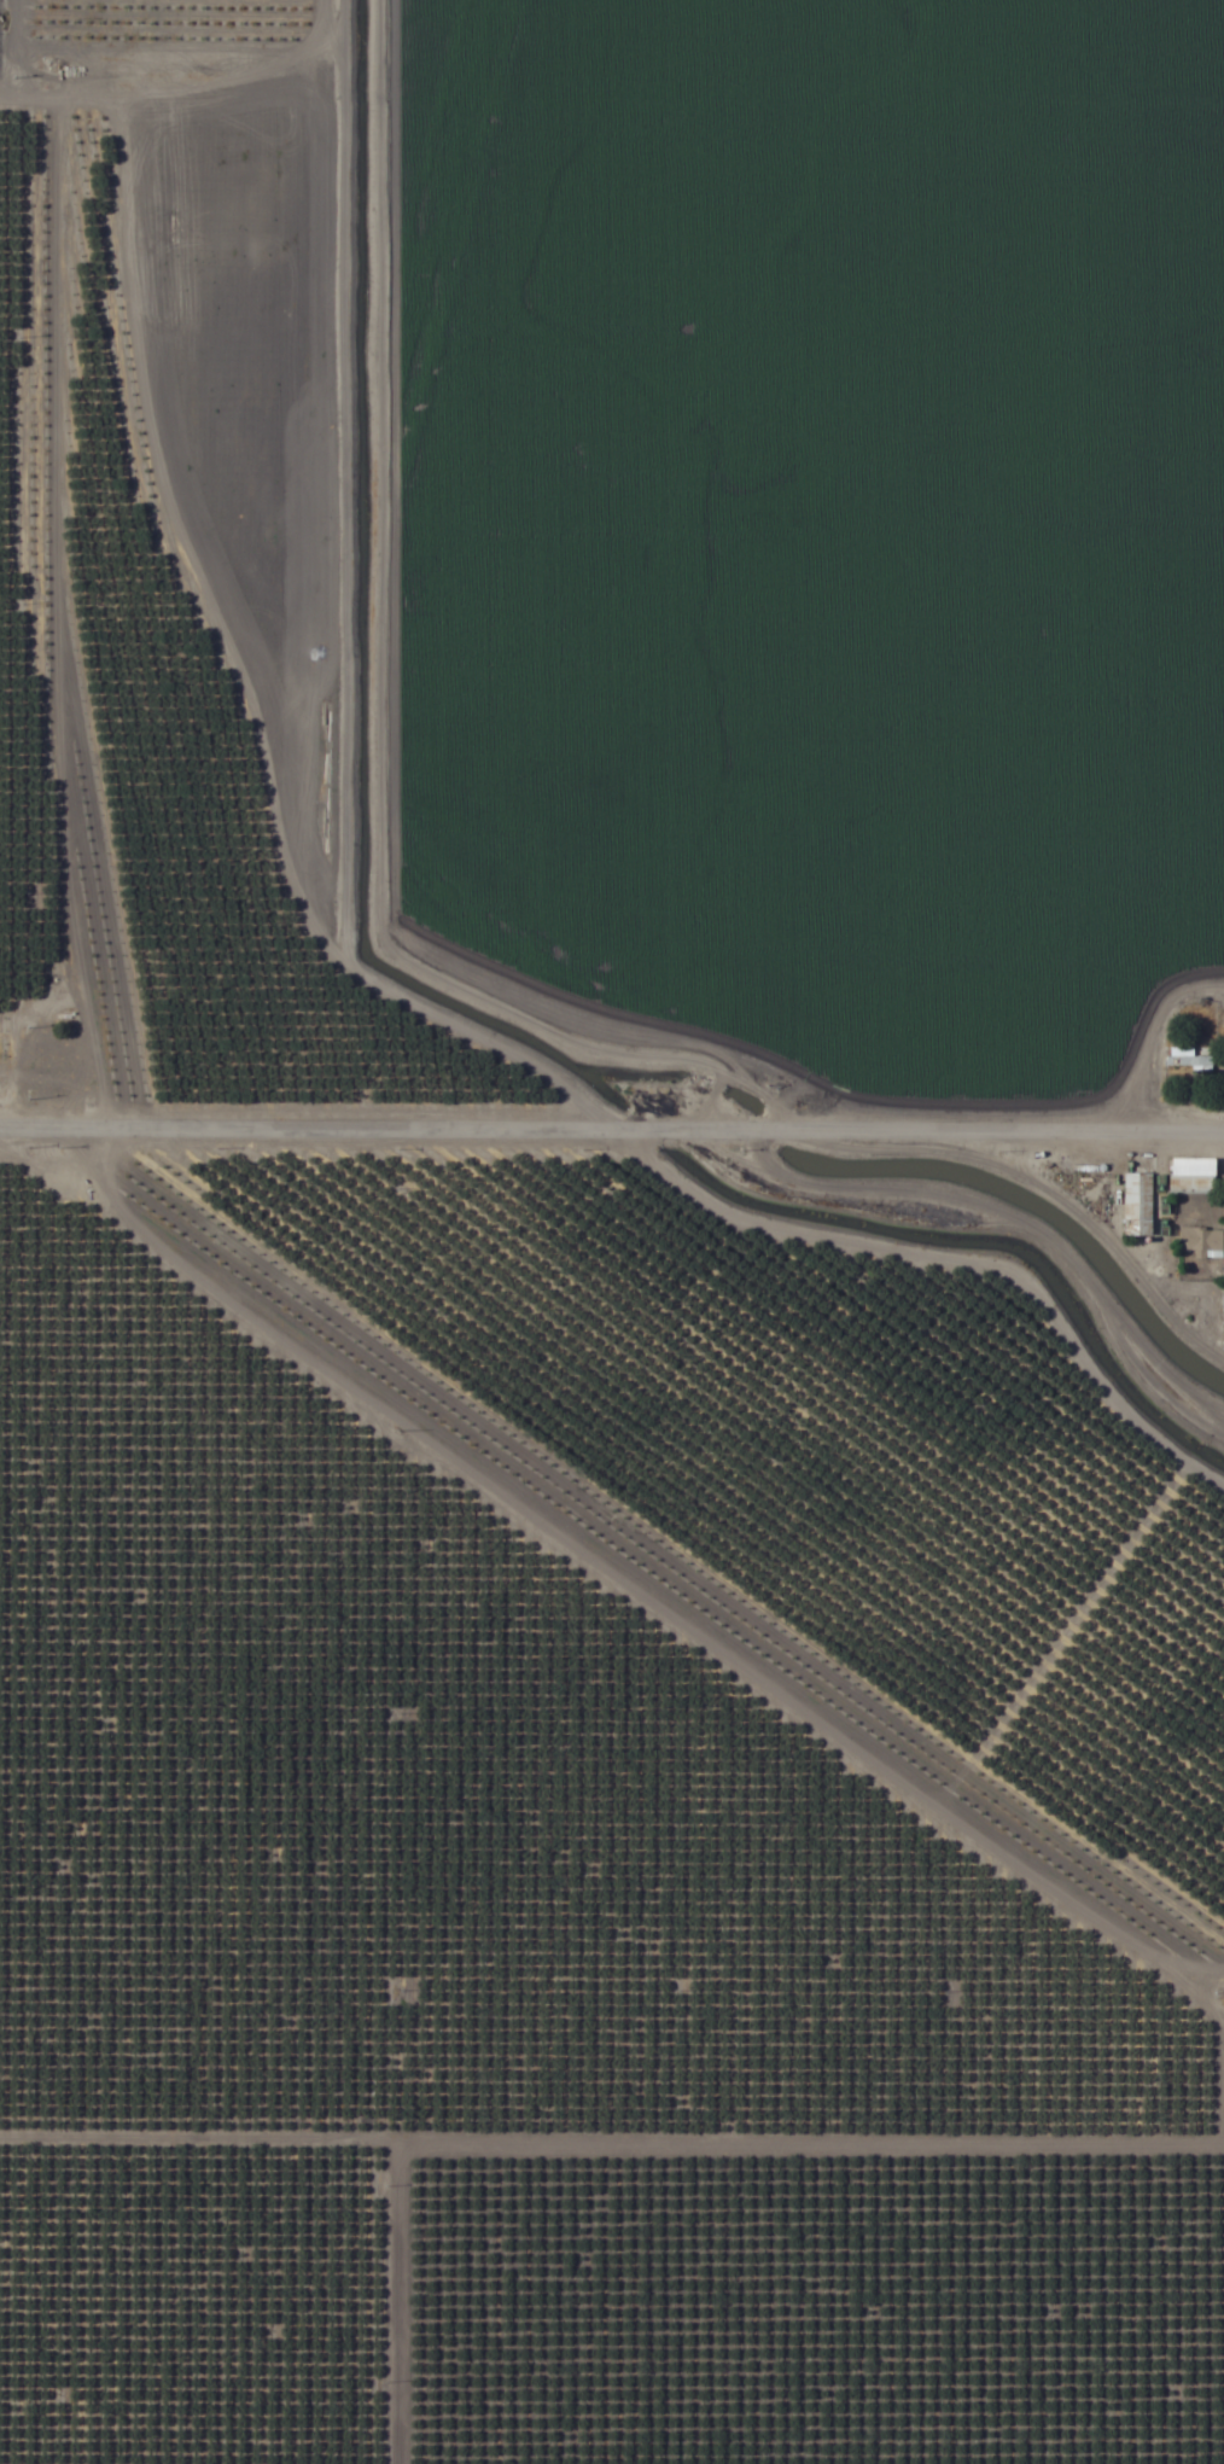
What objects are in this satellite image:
road: (56, 563)
building: (1189, 1061)
road: (69, 1123)
road: (681, 1126)
building: (1194, 1176)
building: (1137, 1205)
crop: (612, 1231)
building: (1208, 1245)
road: (622, 1585)
building: (110, 2198)
building: (332, 2212)
building: (324, 2285)
building: (27, 2337)
building: (34, 2384)
building: (132, 2384)
building: (343, 2387)

